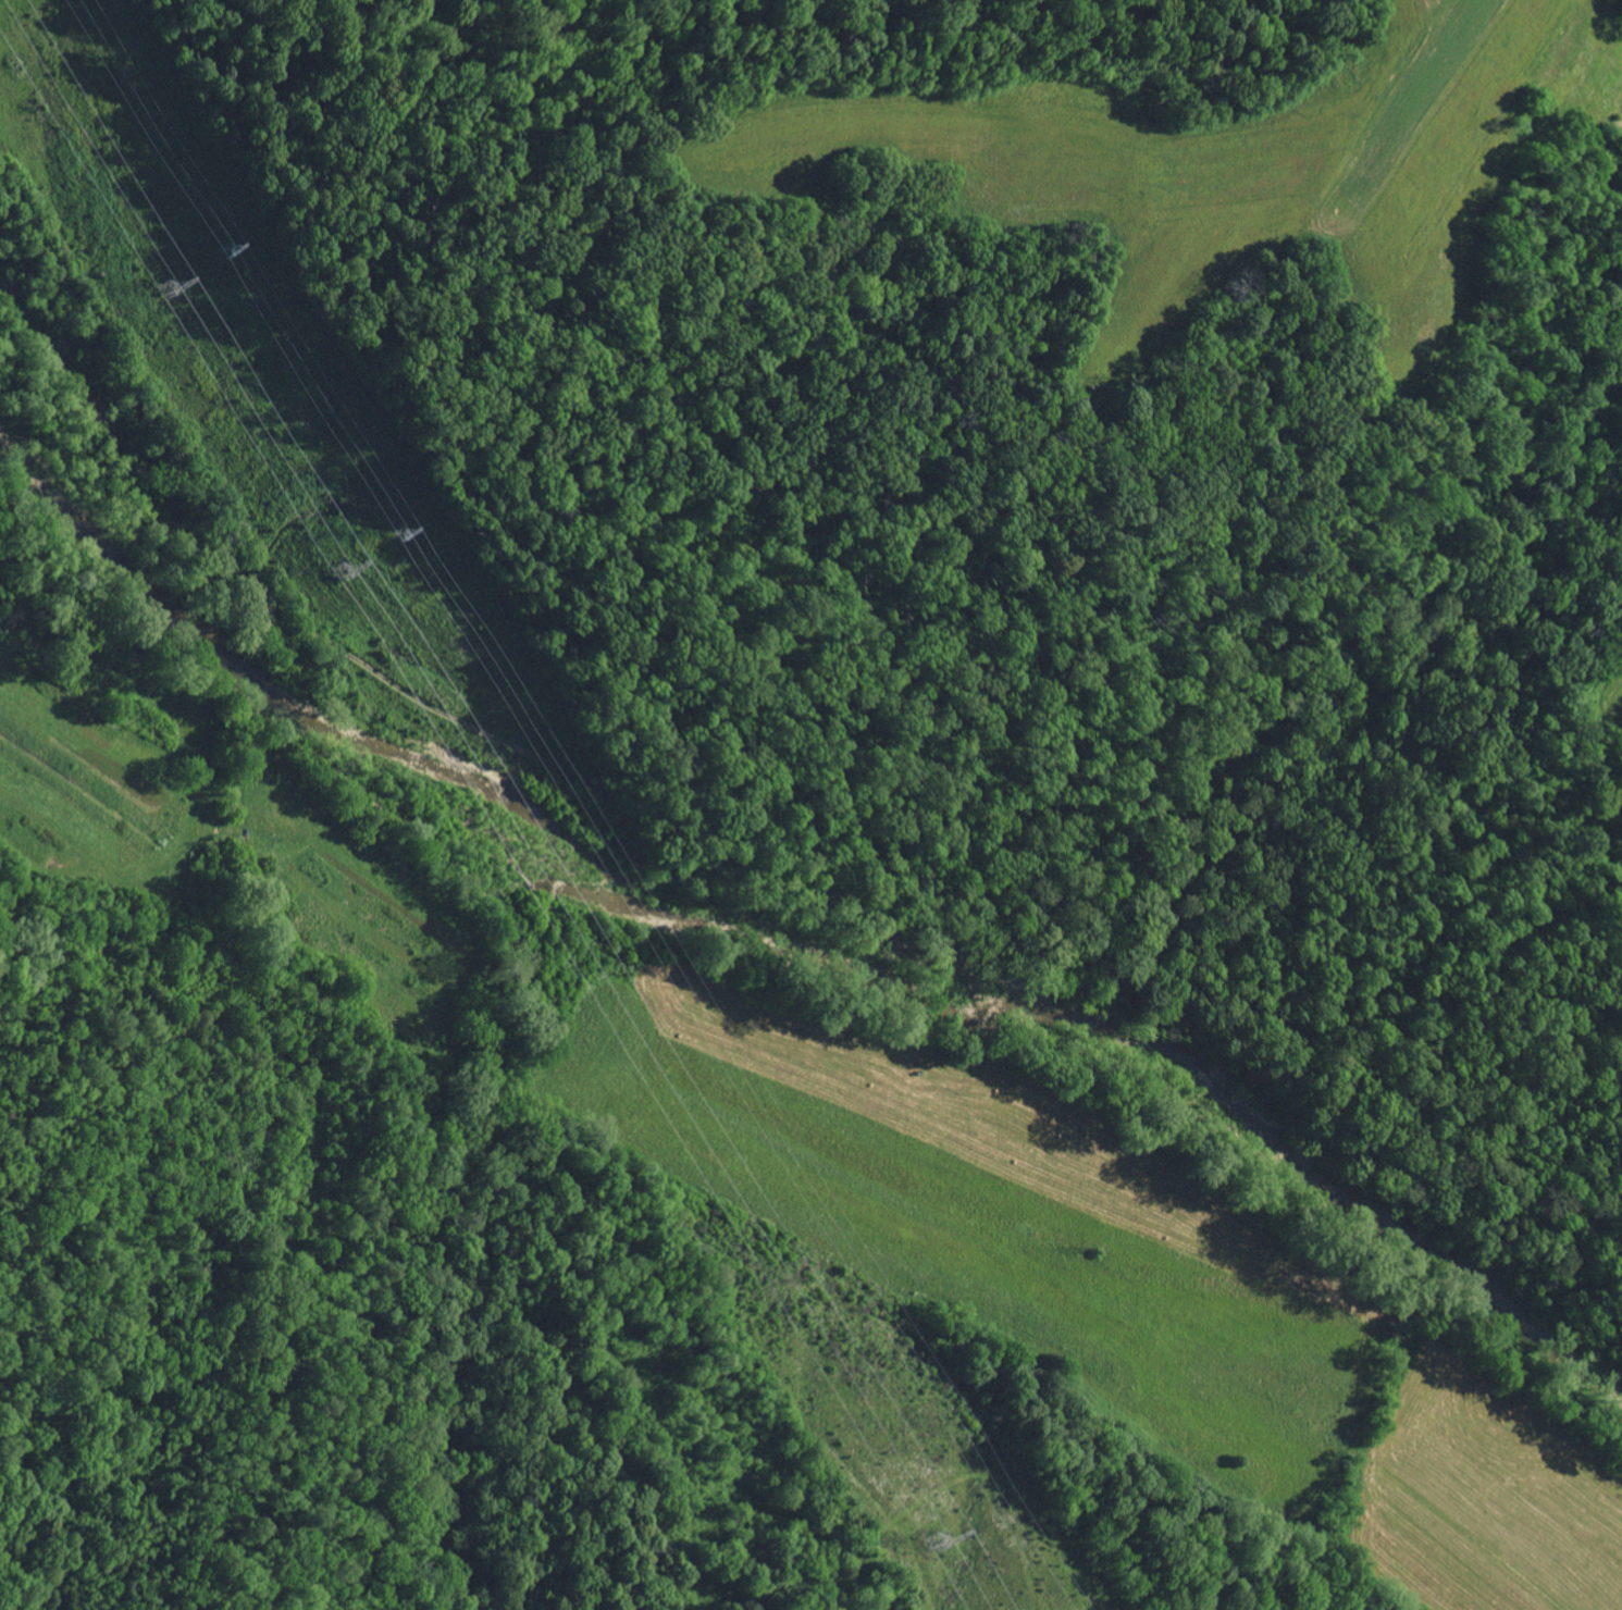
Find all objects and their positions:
road: (744, 844)

